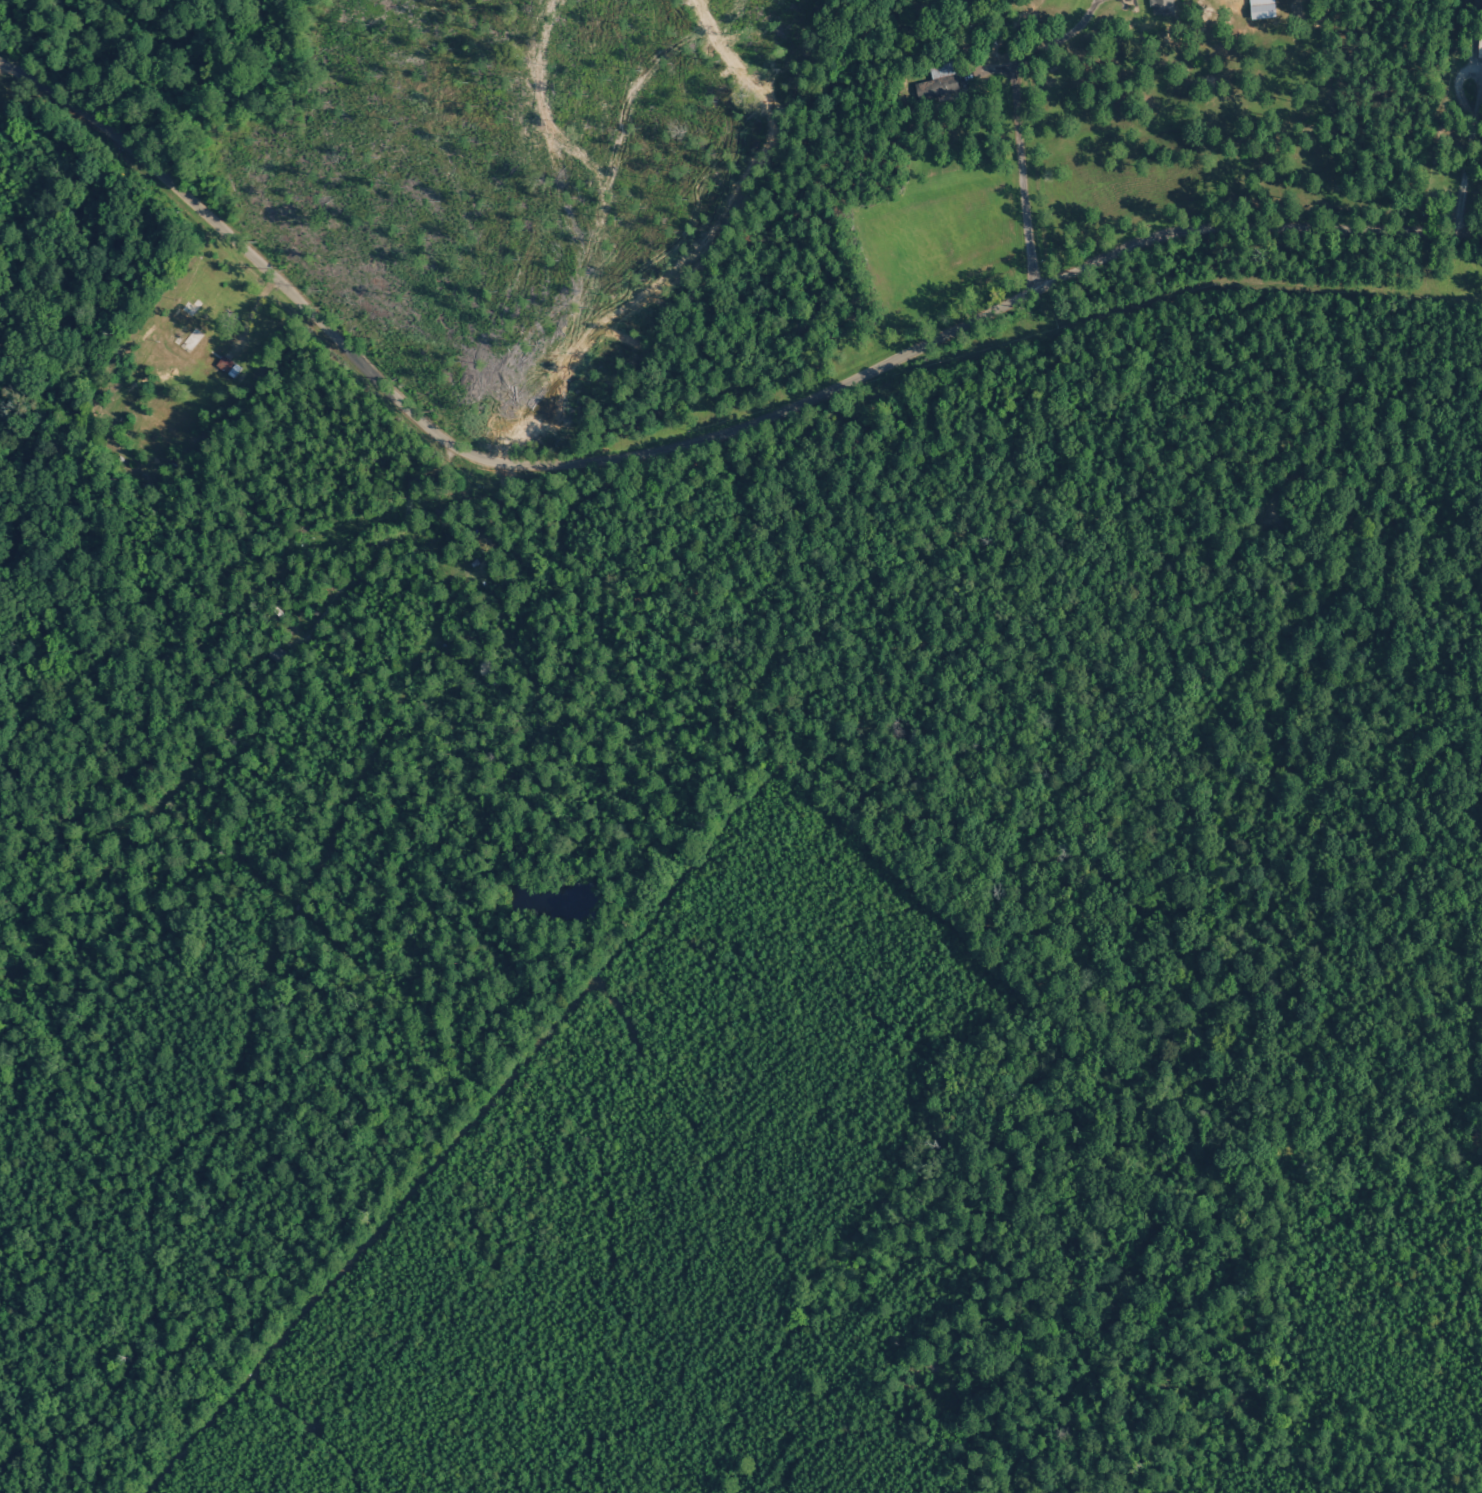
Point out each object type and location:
building: (1163, 8)
building: (1261, 9)
road: (92, 47)
building: (937, 87)
road: (684, 437)

